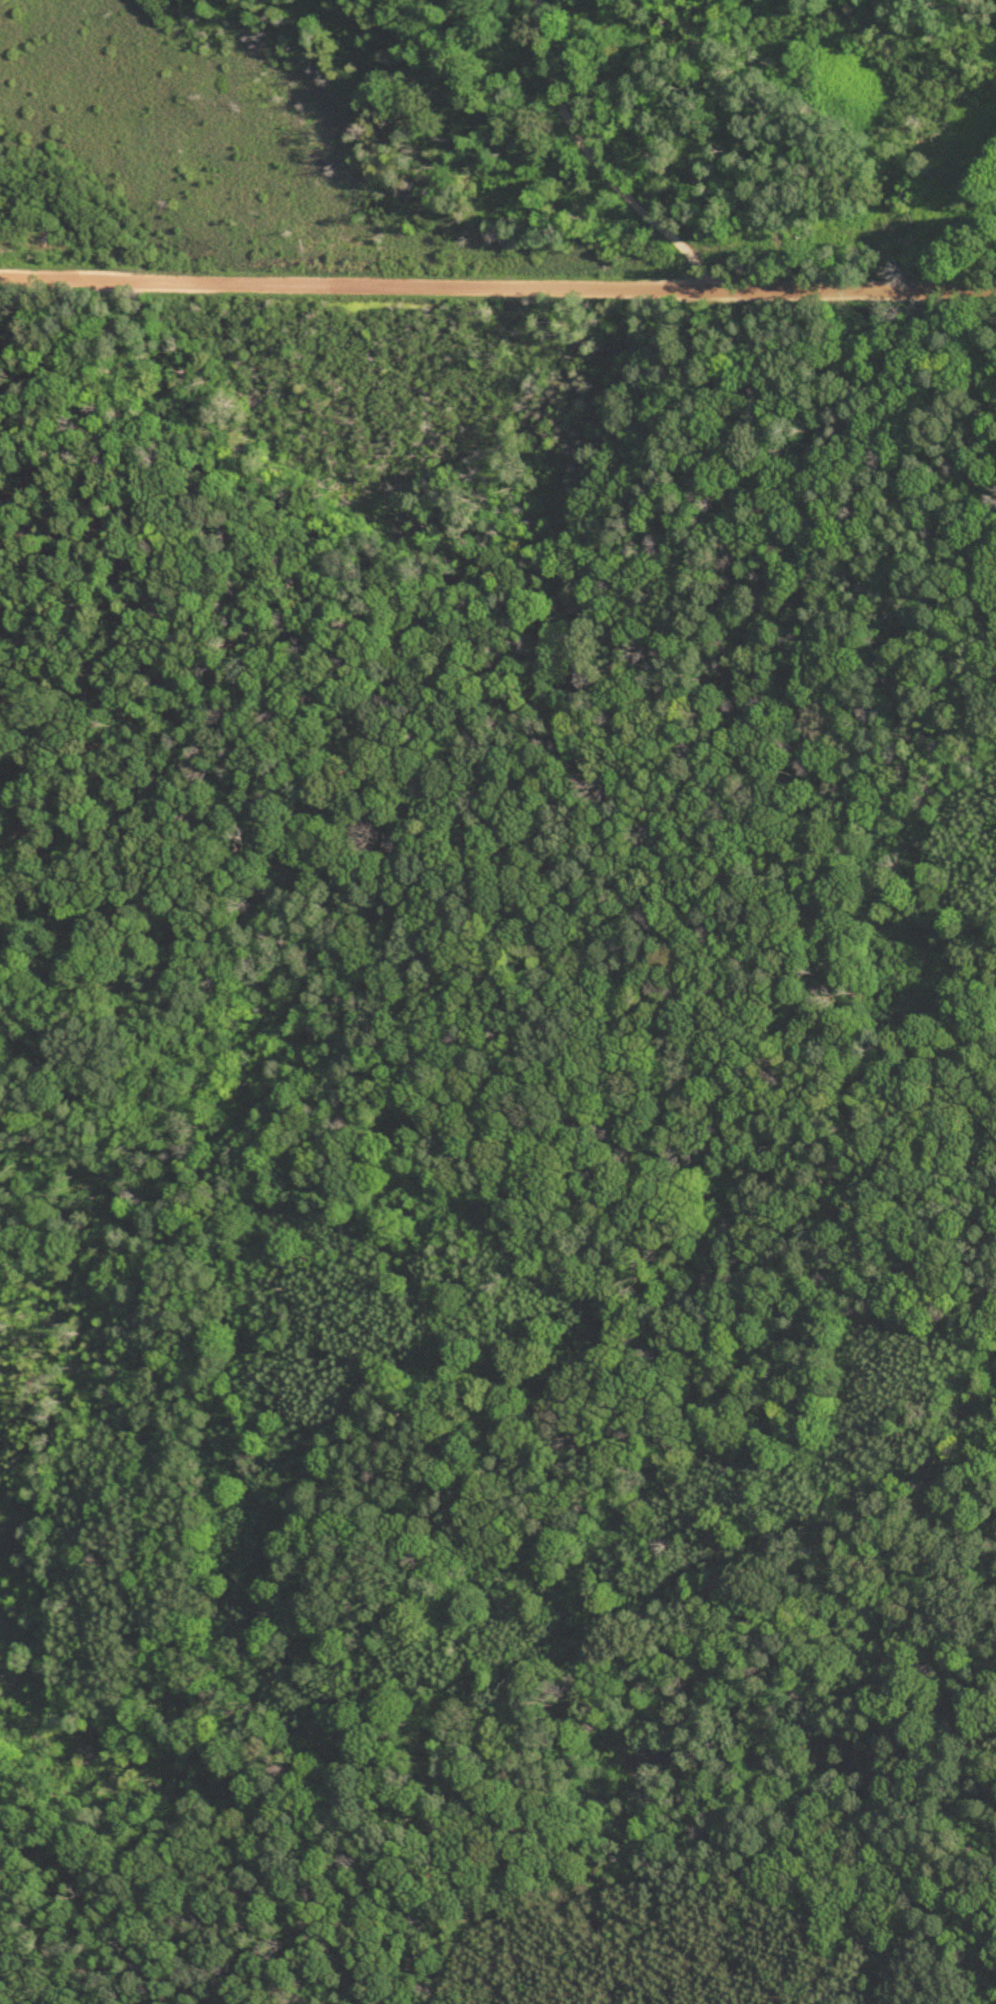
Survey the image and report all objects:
road: (594, 158)
road: (498, 283)

